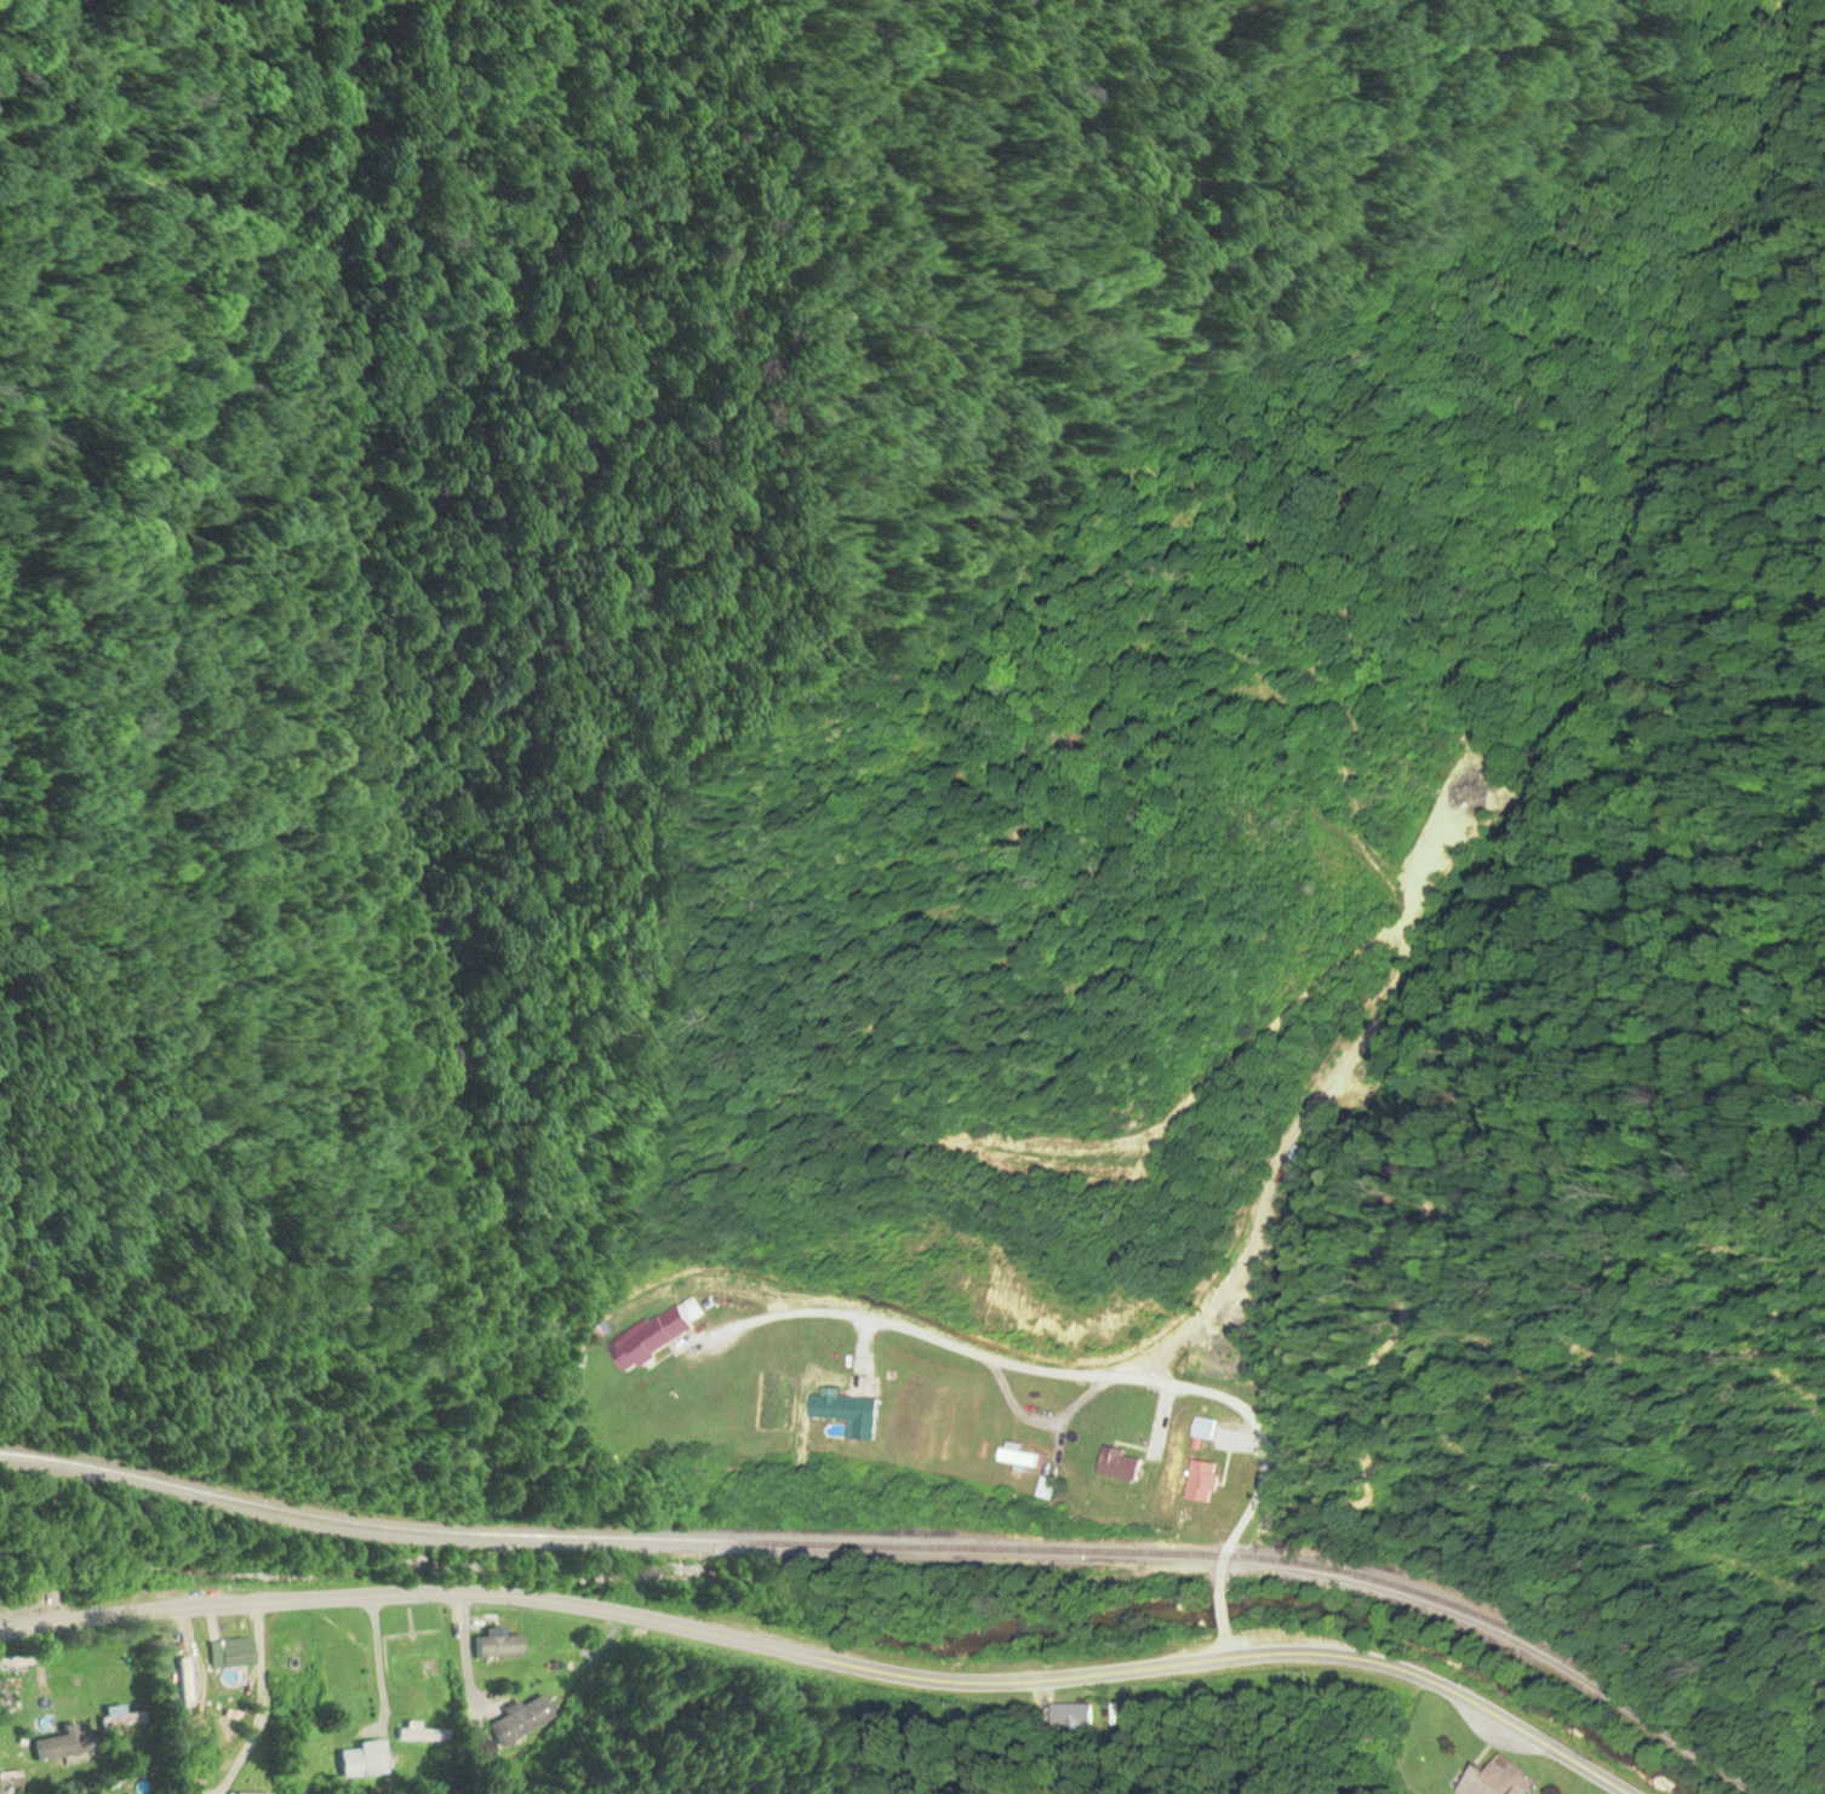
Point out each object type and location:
building: (654, 1334)
road: (1099, 1377)
building: (1013, 1456)
building: (1200, 1483)
building: (1042, 1489)
railway: (906, 1547)
road: (1219, 1615)
road: (468, 1643)
road: (1223, 1651)
building: (229, 1653)
road: (381, 1655)
road: (826, 1660)
road: (641, 1679)
road: (262, 1681)
building: (184, 1684)
building: (7, 1693)
building: (522, 1721)
building: (122, 1723)
road: (818, 1727)
building: (64, 1743)
building: (12, 1746)
building: (362, 1760)
building: (1495, 1779)
building: (244, 1793)

